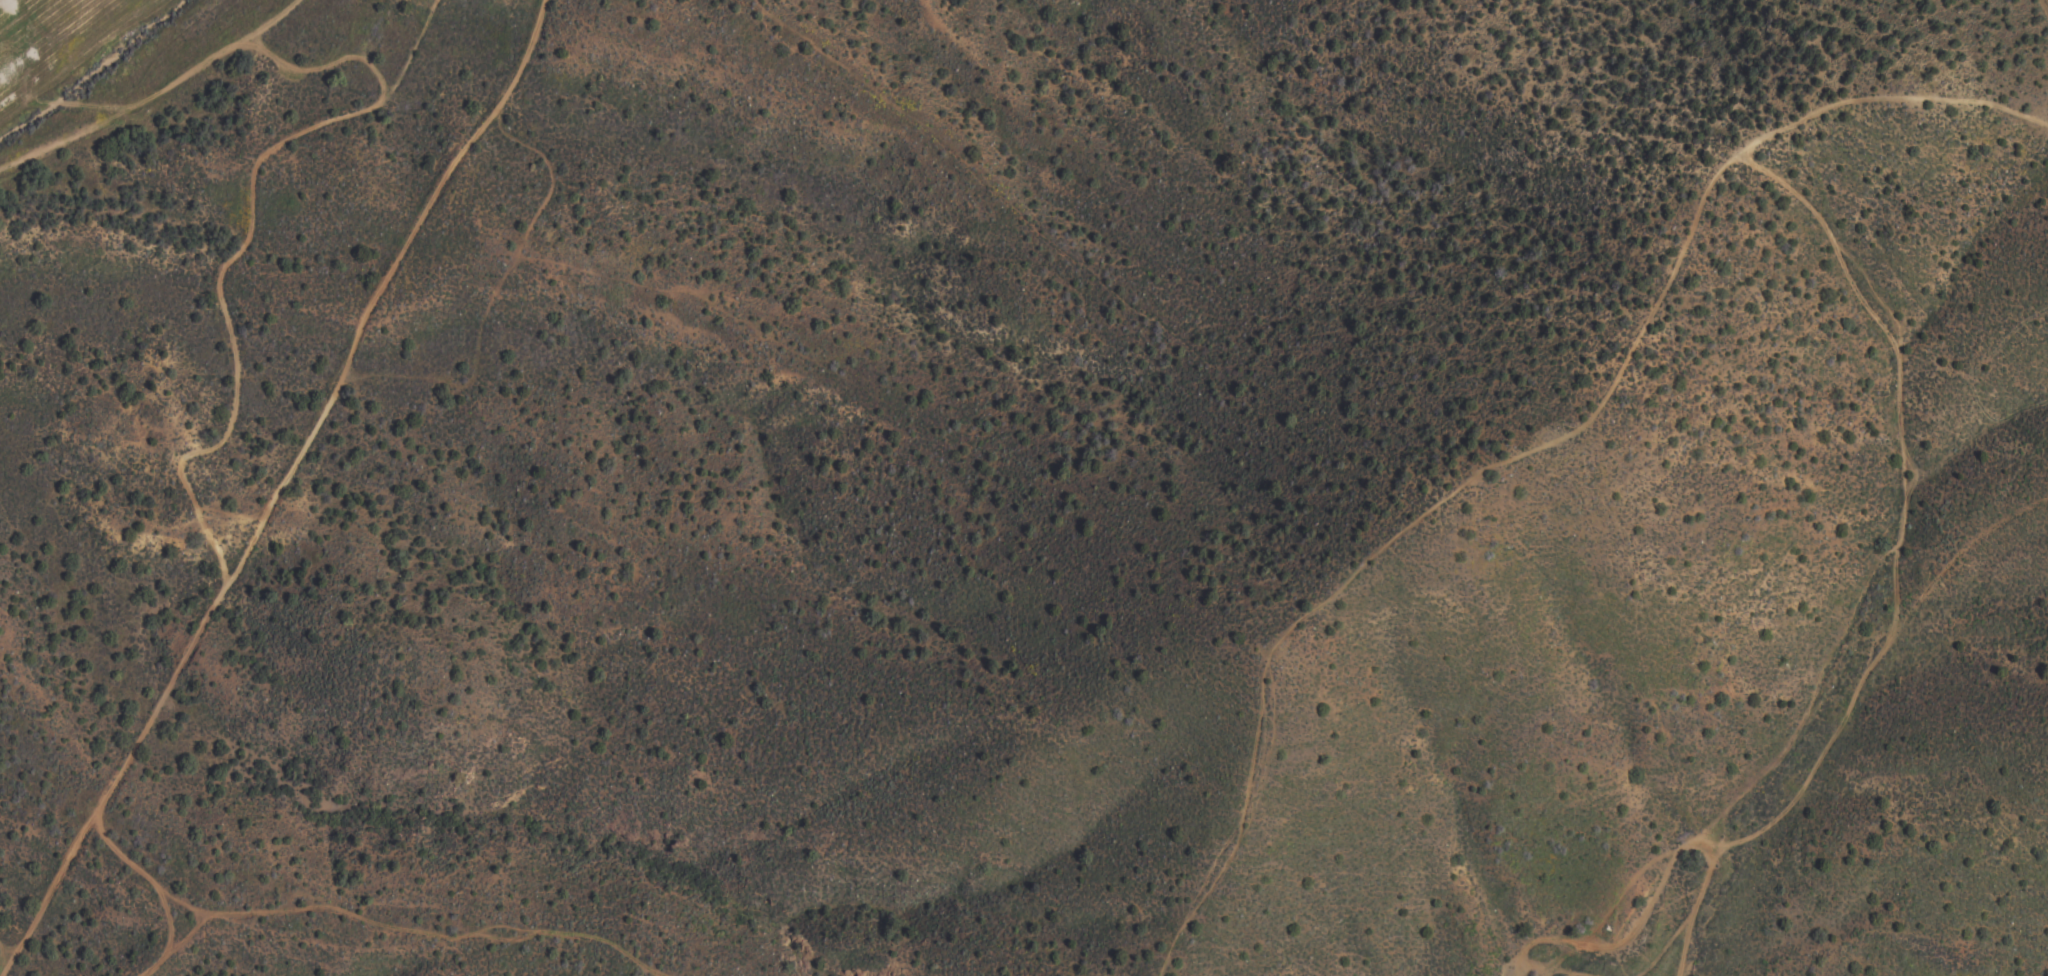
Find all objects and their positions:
airport: (58, 44)
road: (275, 488)

